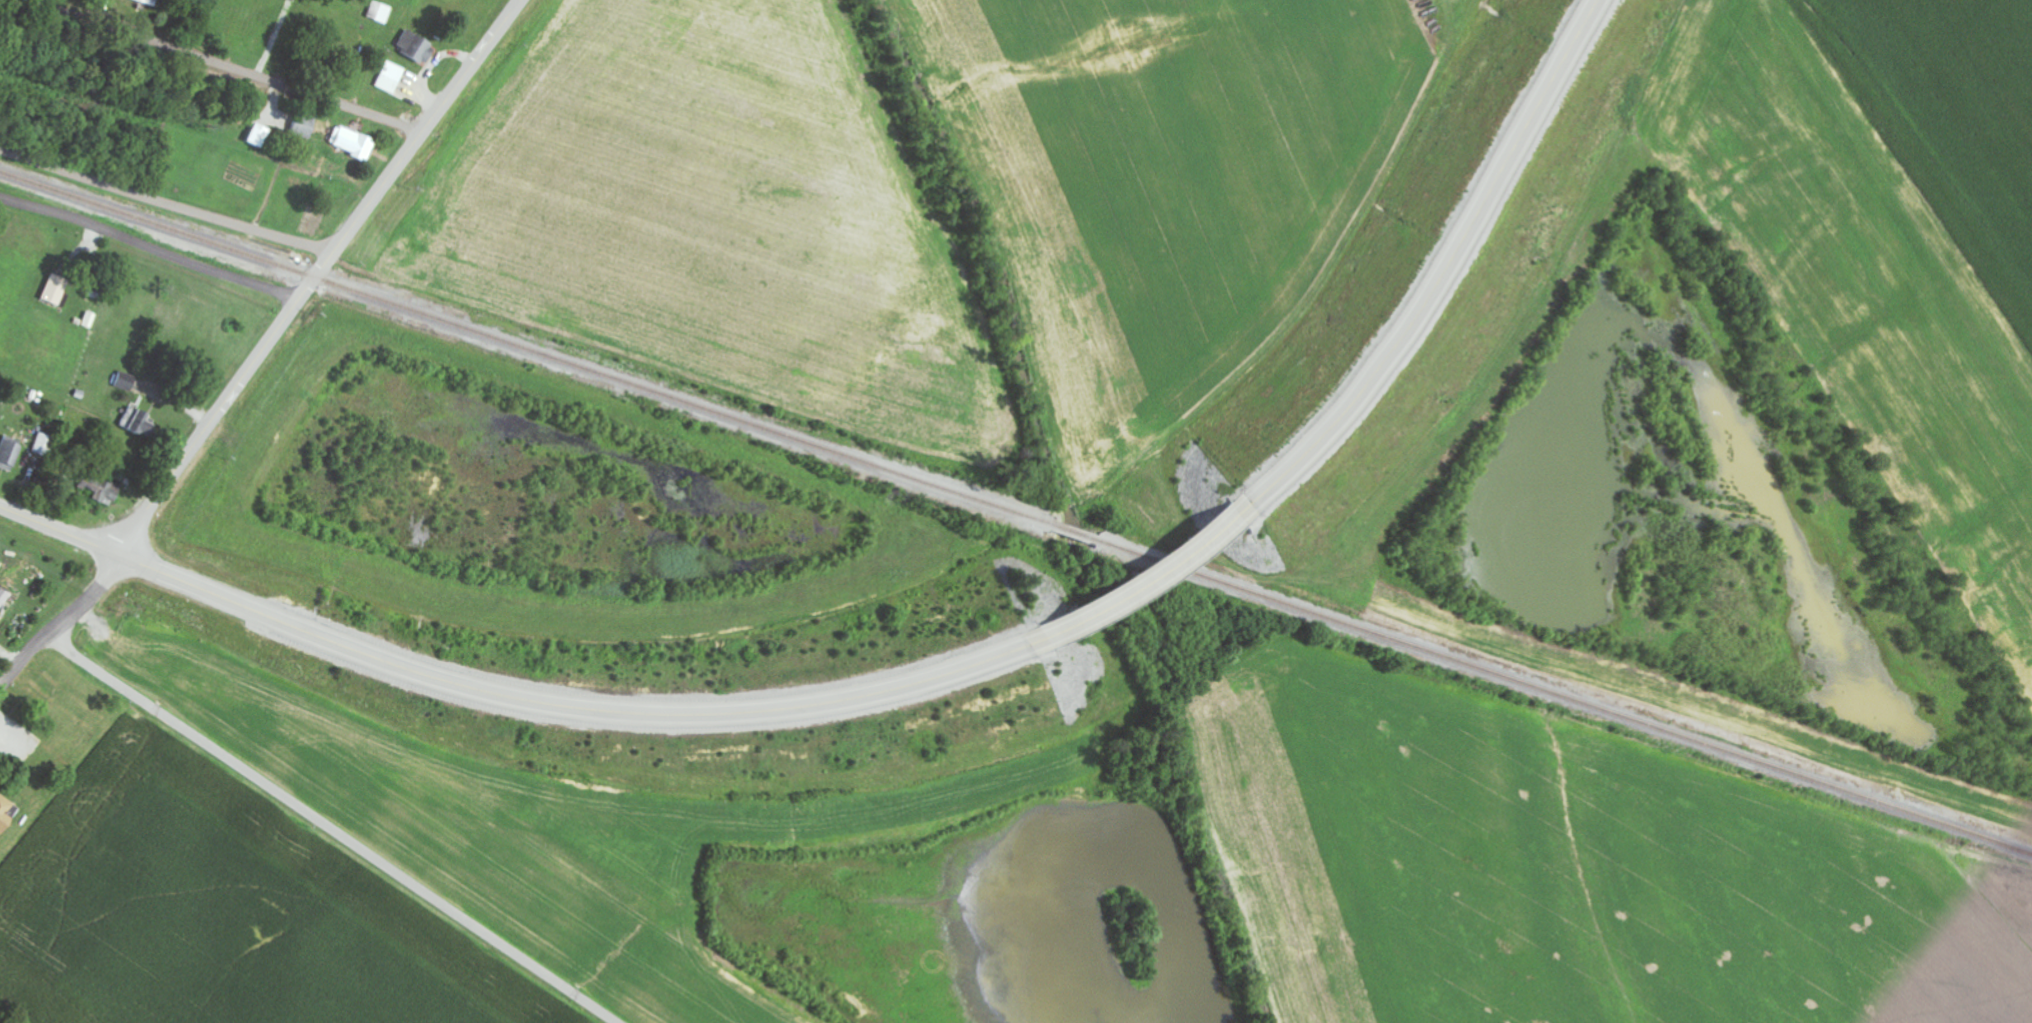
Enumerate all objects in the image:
building: (381, 13)
building: (417, 48)
road: (226, 66)
building: (392, 78)
building: (304, 127)
building: (355, 144)
road: (165, 203)
road: (149, 249)
road: (1446, 270)
road: (315, 276)
building: (56, 289)
railway: (527, 353)
building: (126, 381)
building: (10, 455)
building: (103, 490)
road: (60, 536)
railway: (1079, 539)
road: (1147, 589)
building: (3, 597)
road: (86, 598)
road: (23, 662)
railway: (1567, 701)
road: (568, 712)
building: (5, 814)
road: (332, 829)

